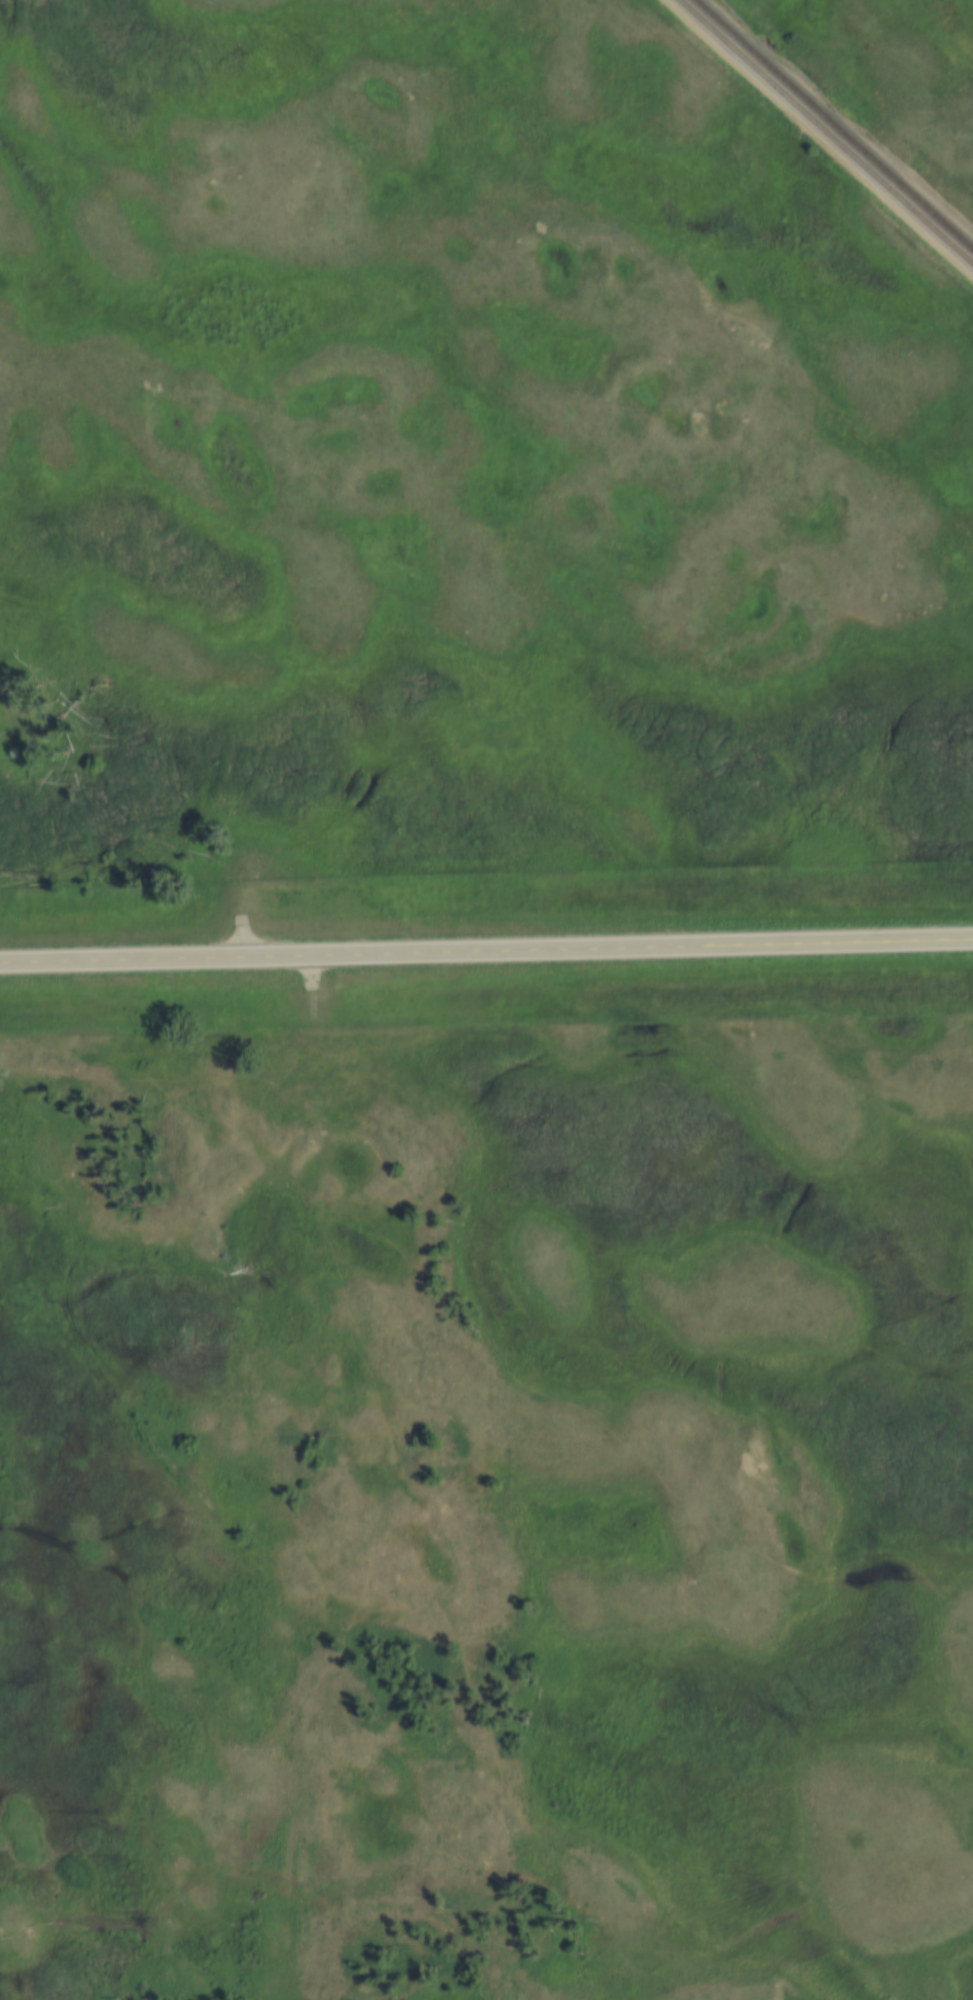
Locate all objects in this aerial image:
railway: (832, 126)
railway: (825, 132)
road: (486, 952)

